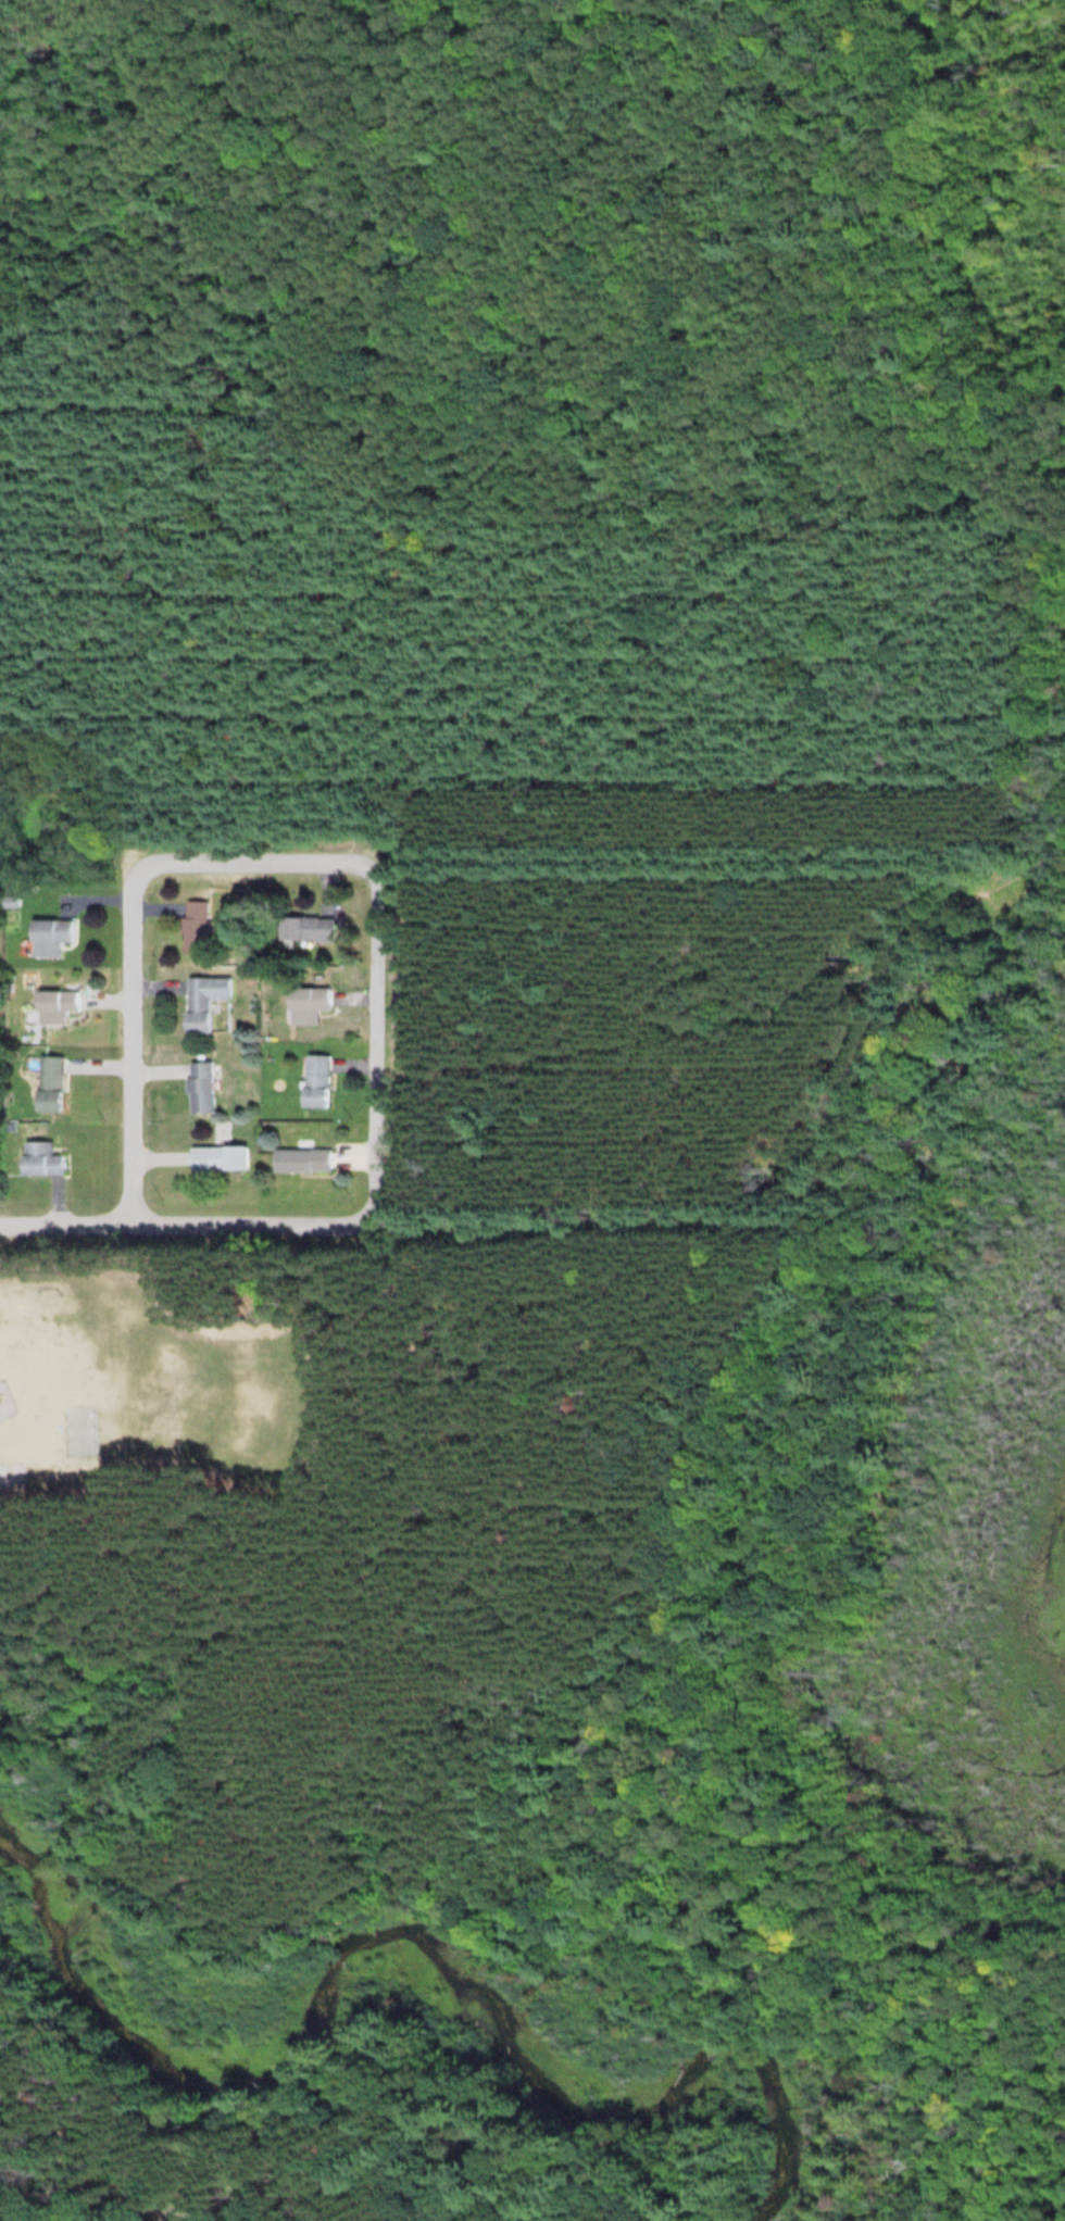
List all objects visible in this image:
road: (241, 145)
road: (1036, 649)
road: (424, 828)
road: (408, 851)
road: (259, 862)
building: (193, 927)
building: (306, 929)
building: (48, 937)
building: (202, 1002)
building: (308, 1005)
building: (53, 1006)
road: (386, 1044)
road: (130, 1045)
building: (317, 1081)
building: (48, 1083)
building: (200, 1088)
building: (217, 1158)
building: (40, 1159)
building: (303, 1160)
road: (190, 1225)
road: (604, 1760)
road: (7, 2082)
road: (63, 2143)
road: (140, 2220)

